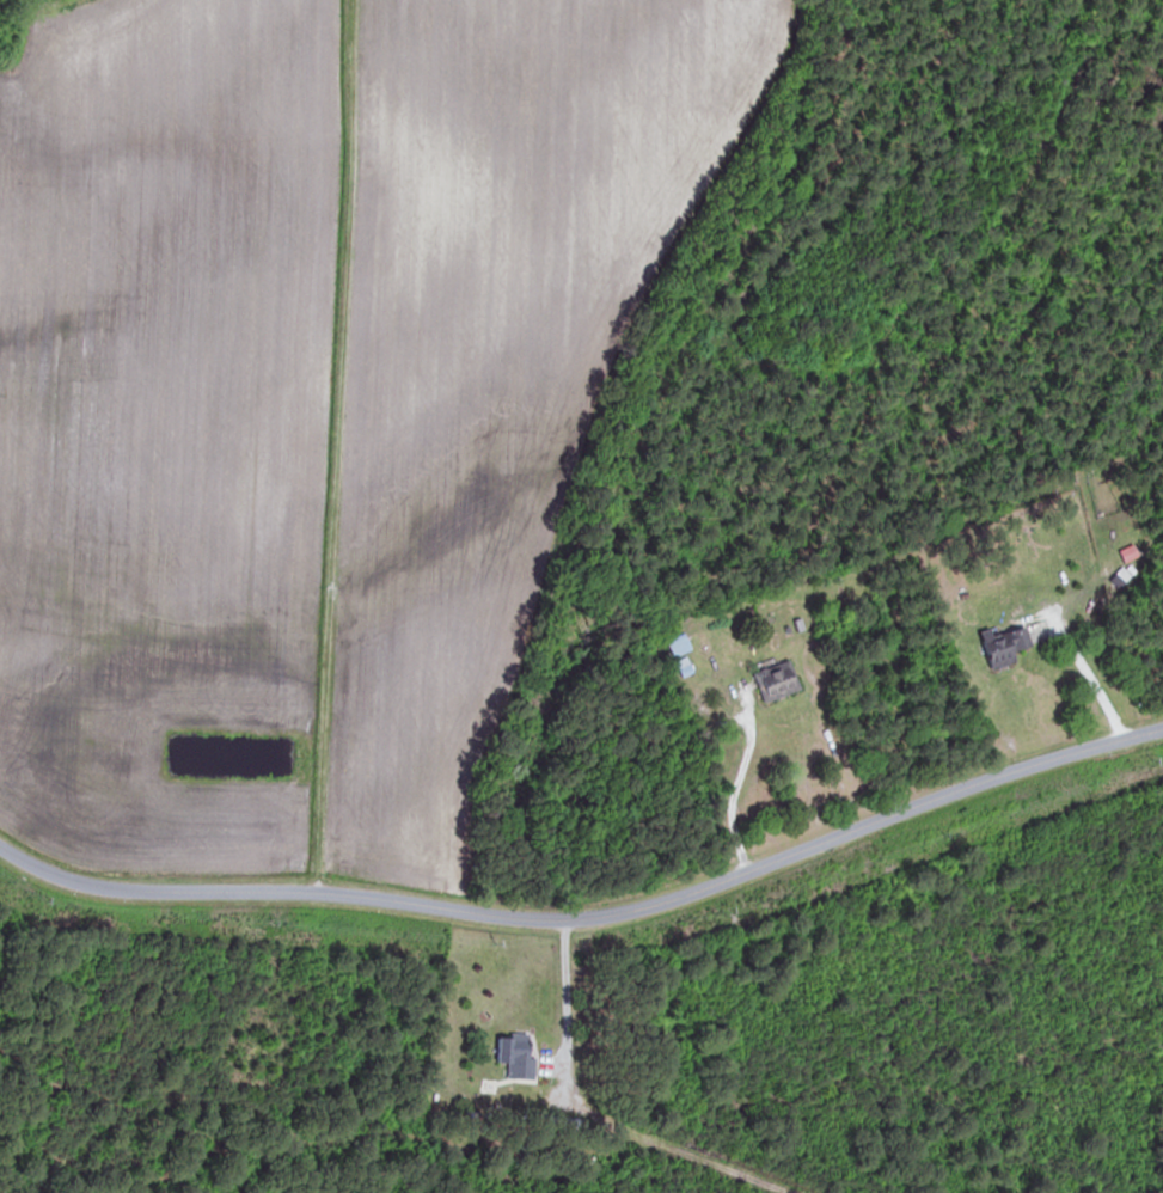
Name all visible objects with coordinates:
building: (673, 646)
building: (997, 646)
building: (771, 681)
road: (1083, 685)
road: (736, 784)
road: (590, 919)
road: (565, 996)
building: (512, 1053)

